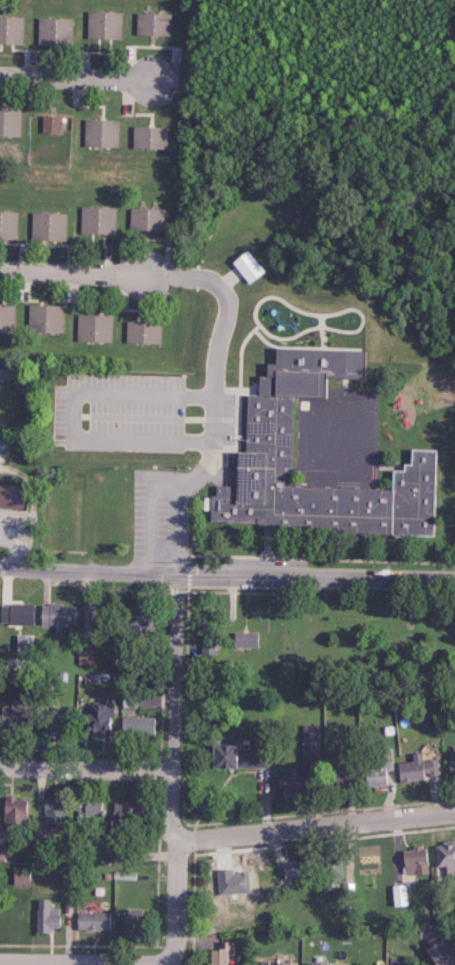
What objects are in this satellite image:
building: (152, 24)
building: (103, 25)
building: (10, 29)
building: (54, 31)
road: (75, 77)
building: (9, 122)
building: (50, 124)
building: (100, 133)
building: (149, 137)
building: (146, 218)
building: (97, 219)
building: (7, 223)
building: (47, 225)
building: (246, 265)
road: (72, 270)
building: (6, 316)
building: (45, 317)
building: (94, 327)
building: (142, 331)
building: (8, 372)
road: (213, 408)
road: (72, 414)
parking lot: (193, 424)
building: (1, 444)
building: (259, 457)
building: (10, 495)
parking lot: (159, 512)
road: (178, 527)
road: (227, 574)
building: (15, 613)
building: (56, 615)
building: (138, 618)
building: (243, 639)
building: (207, 642)
building: (24, 643)
building: (85, 656)
building: (129, 700)
building: (16, 715)
building: (97, 716)
building: (52, 721)
building: (138, 725)
building: (309, 740)
building: (219, 755)
building: (250, 757)
road: (83, 764)
building: (451, 766)
building: (415, 768)
road: (167, 769)
building: (379, 769)
building: (334, 774)
building: (284, 780)
building: (93, 806)
building: (13, 810)
building: (128, 810)
building: (52, 811)
road: (314, 827)
building: (1, 852)
building: (445, 857)
building: (414, 860)
building: (328, 868)
building: (291, 869)
building: (22, 876)
building: (231, 881)
building: (399, 894)
building: (46, 916)
building: (91, 920)
building: (132, 921)
building: (439, 952)
building: (220, 953)
road: (11, 964)
building: (277, 964)
building: (314, 964)

